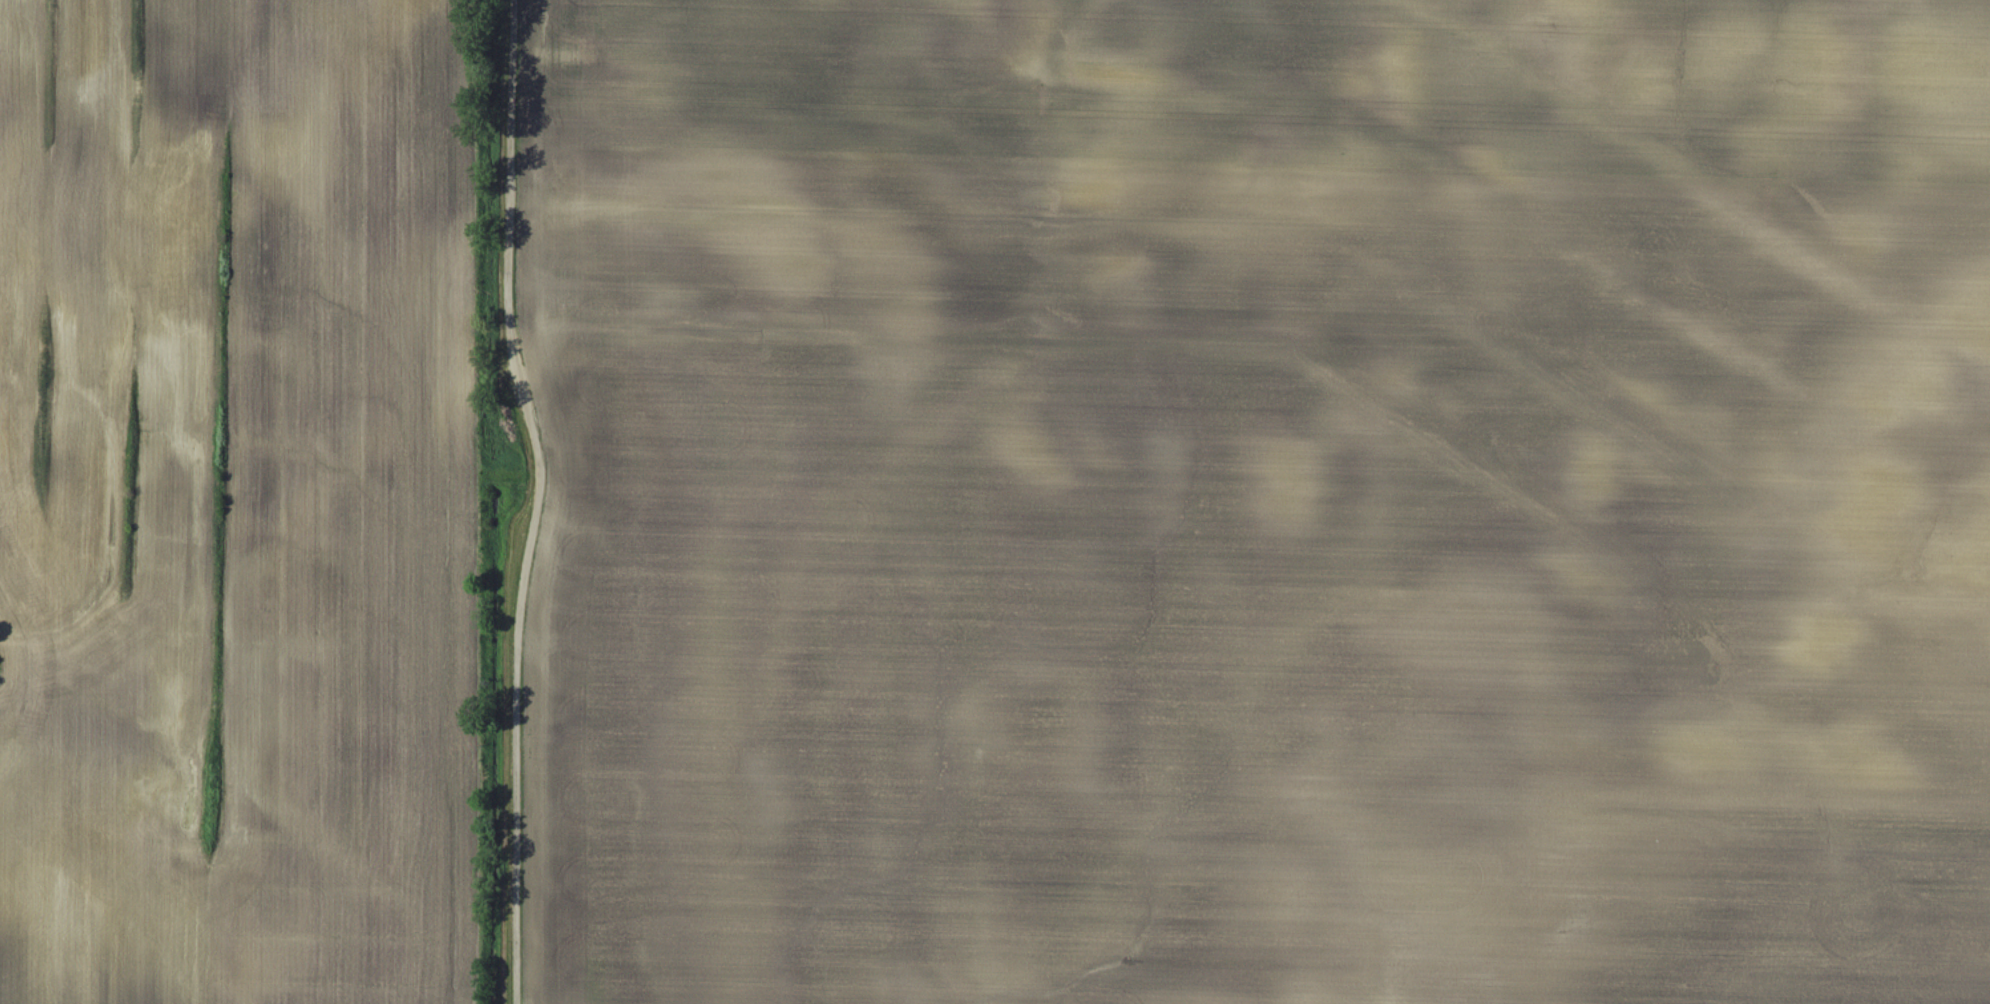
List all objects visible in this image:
road: (540, 500)

